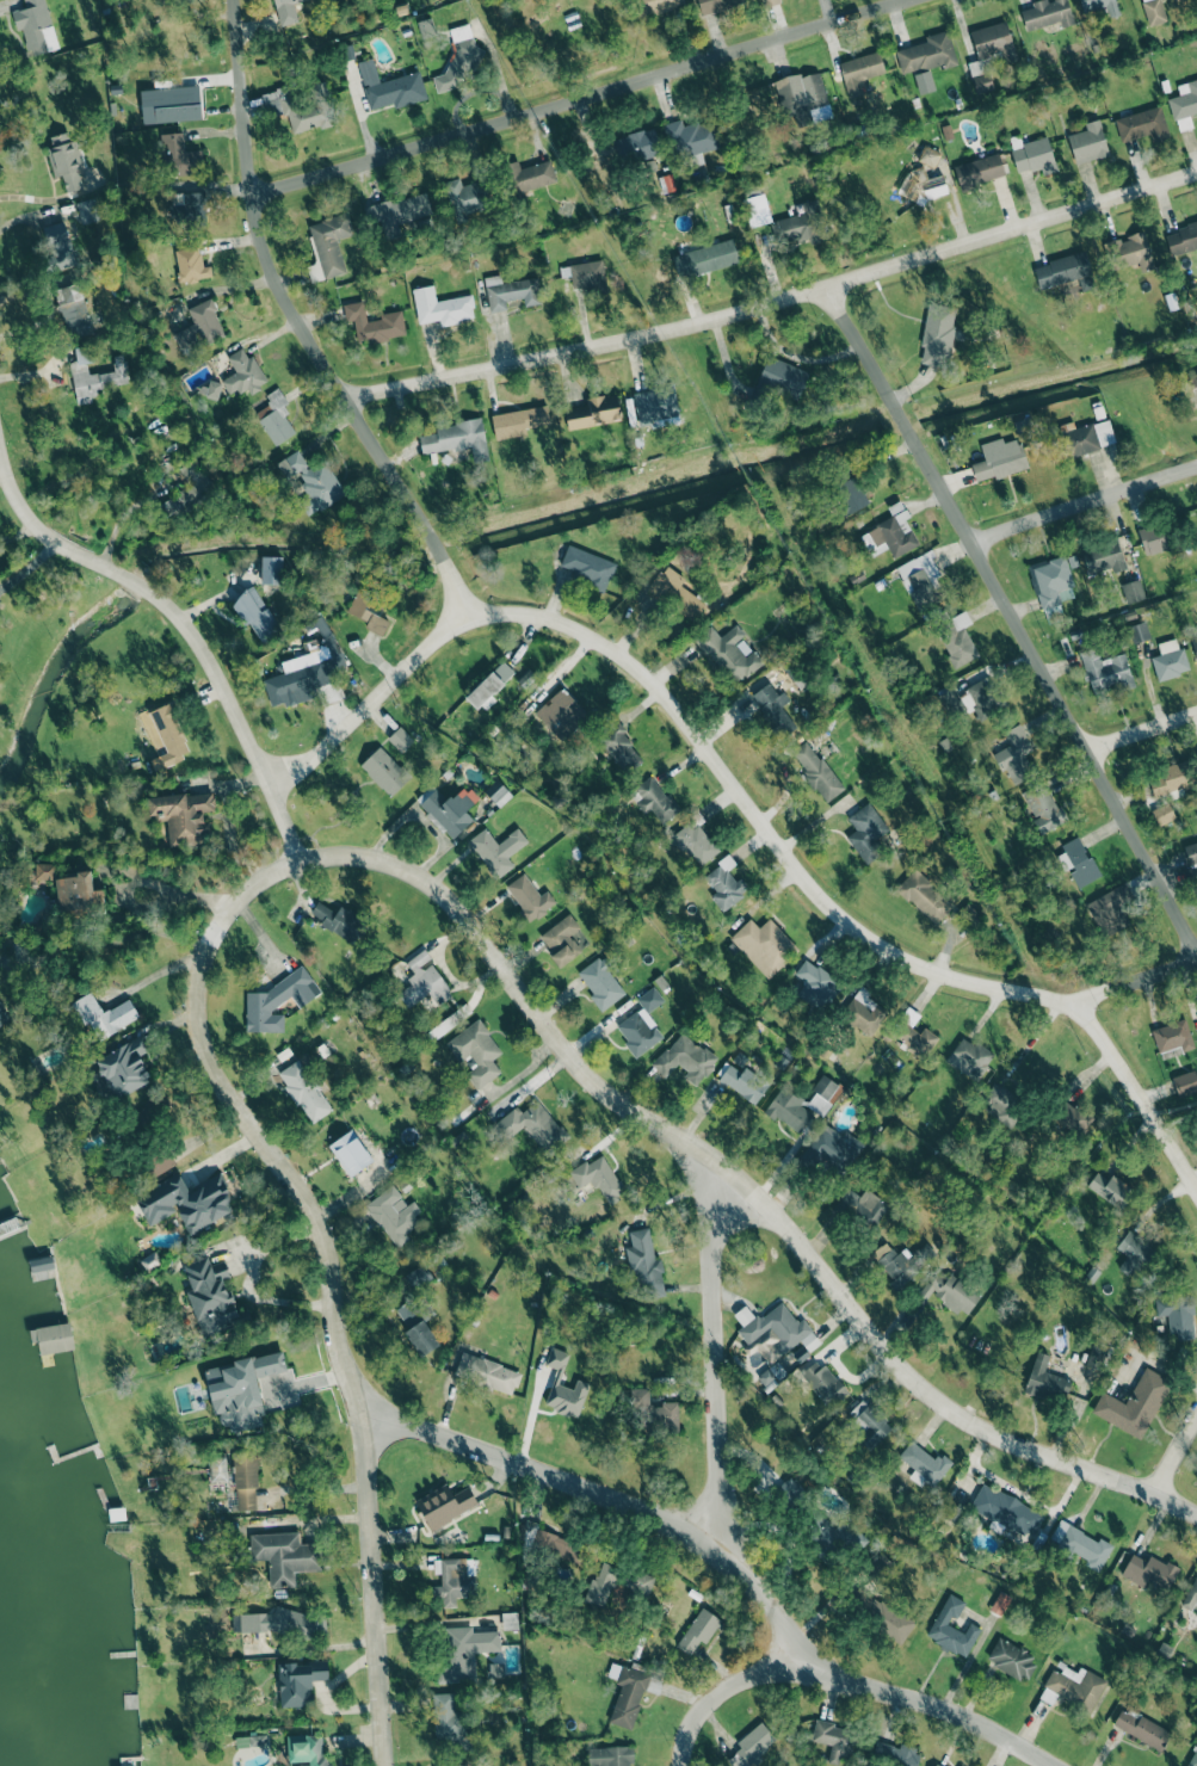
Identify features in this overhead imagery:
building: (769, 1)
building: (656, 5)
building: (716, 5)
building: (1100, 7)
building: (286, 11)
building: (1154, 12)
building: (1047, 13)
building: (36, 27)
building: (993, 42)
building: (926, 54)
building: (461, 60)
building: (860, 70)
building: (980, 78)
building: (390, 87)
road: (570, 97)
building: (801, 97)
building: (169, 104)
building: (1184, 104)
building: (301, 107)
building: (1143, 125)
building: (691, 137)
building: (1088, 142)
building: (637, 146)
building: (178, 156)
building: (928, 156)
building: (1034, 156)
building: (64, 159)
building: (979, 171)
building: (530, 175)
building: (925, 187)
building: (467, 197)
building: (189, 206)
building: (87, 210)
building: (757, 210)
road: (32, 214)
building: (397, 214)
building: (800, 224)
building: (1181, 239)
building: (331, 242)
building: (57, 245)
building: (1134, 251)
building: (705, 258)
building: (191, 265)
building: (1065, 271)
building: (587, 274)
building: (510, 292)
road: (776, 300)
building: (440, 307)
building: (72, 310)
road: (295, 323)
building: (374, 323)
building: (199, 327)
building: (937, 335)
building: (243, 373)
building: (94, 376)
building: (1195, 378)
building: (655, 405)
building: (593, 412)
building: (277, 418)
building: (518, 421)
building: (1090, 437)
building: (456, 439)
building: (999, 461)
building: (316, 484)
building: (190, 488)
building: (851, 494)
road: (1081, 505)
building: (1155, 538)
building: (1102, 556)
building: (587, 566)
road: (29, 567)
building: (271, 569)
building: (920, 578)
building: (1051, 583)
building: (1133, 591)
building: (675, 592)
road: (155, 597)
building: (368, 612)
building: (254, 613)
road: (1011, 622)
building: (1139, 631)
building: (958, 637)
building: (1195, 646)
building: (729, 653)
building: (1170, 659)
building: (1105, 671)
building: (303, 675)
building: (490, 685)
building: (985, 697)
building: (772, 705)
building: (561, 714)
road: (675, 716)
road: (1141, 730)
building: (169, 734)
building: (400, 739)
building: (618, 746)
building: (1016, 755)
building: (384, 771)
building: (816, 771)
building: (1172, 778)
building: (494, 790)
building: (653, 799)
building: (1043, 807)
building: (449, 808)
building: (1162, 814)
building: (183, 816)
road: (283, 823)
building: (866, 832)
building: (695, 844)
building: (496, 850)
building: (1192, 859)
building: (1080, 862)
building: (44, 871)
building: (724, 884)
road: (177, 890)
building: (79, 896)
building: (924, 896)
building: (530, 897)
building: (1110, 910)
building: (969, 913)
building: (339, 921)
road: (104, 939)
building: (561, 940)
building: (764, 945)
road: (1133, 980)
building: (422, 981)
building: (601, 983)
building: (649, 999)
building: (278, 1000)
building: (865, 1013)
building: (104, 1015)
building: (1196, 1015)
building: (638, 1031)
building: (1173, 1038)
building: (476, 1051)
building: (683, 1056)
building: (970, 1058)
building: (123, 1068)
building: (742, 1082)
building: (1185, 1082)
building: (304, 1091)
building: (825, 1095)
road: (1136, 1099)
building: (1001, 1104)
building: (789, 1110)
building: (1067, 1113)
building: (532, 1125)
building: (832, 1149)
building: (350, 1153)
building: (159, 1163)
building: (599, 1178)
road: (742, 1185)
building: (1110, 1188)
building: (186, 1202)
building: (862, 1206)
building: (394, 1215)
building: (1134, 1253)
building: (643, 1261)
building: (42, 1264)
building: (895, 1265)
road: (328, 1273)
building: (418, 1277)
building: (950, 1291)
building: (210, 1296)
building: (1177, 1315)
building: (415, 1327)
building: (775, 1327)
building: (53, 1338)
building: (1096, 1353)
road: (710, 1358)
building: (487, 1372)
building: (771, 1375)
building: (1045, 1381)
building: (825, 1383)
building: (563, 1387)
building: (241, 1390)
building: (1134, 1404)
building: (656, 1412)
building: (868, 1421)
road: (1174, 1453)
building: (925, 1464)
building: (246, 1481)
building: (789, 1492)
building: (444, 1505)
building: (1006, 1511)
building: (827, 1538)
building: (1081, 1544)
building: (555, 1545)
building: (284, 1556)
road: (726, 1561)
building: (1149, 1572)
building: (452, 1580)
building: (600, 1586)
building: (1191, 1595)
building: (1000, 1603)
building: (277, 1622)
building: (951, 1628)
building: (698, 1630)
building: (463, 1651)
building: (1011, 1659)
building: (300, 1681)
building: (1073, 1687)
road: (721, 1691)
building: (630, 1692)
building: (448, 1718)
building: (1141, 1728)
building: (834, 1740)
building: (251, 1741)
building: (754, 1742)
building: (306, 1750)
building: (895, 1754)
building: (610, 1755)
building: (1193, 1759)
building: (444, 1765)
building: (937, 1765)

